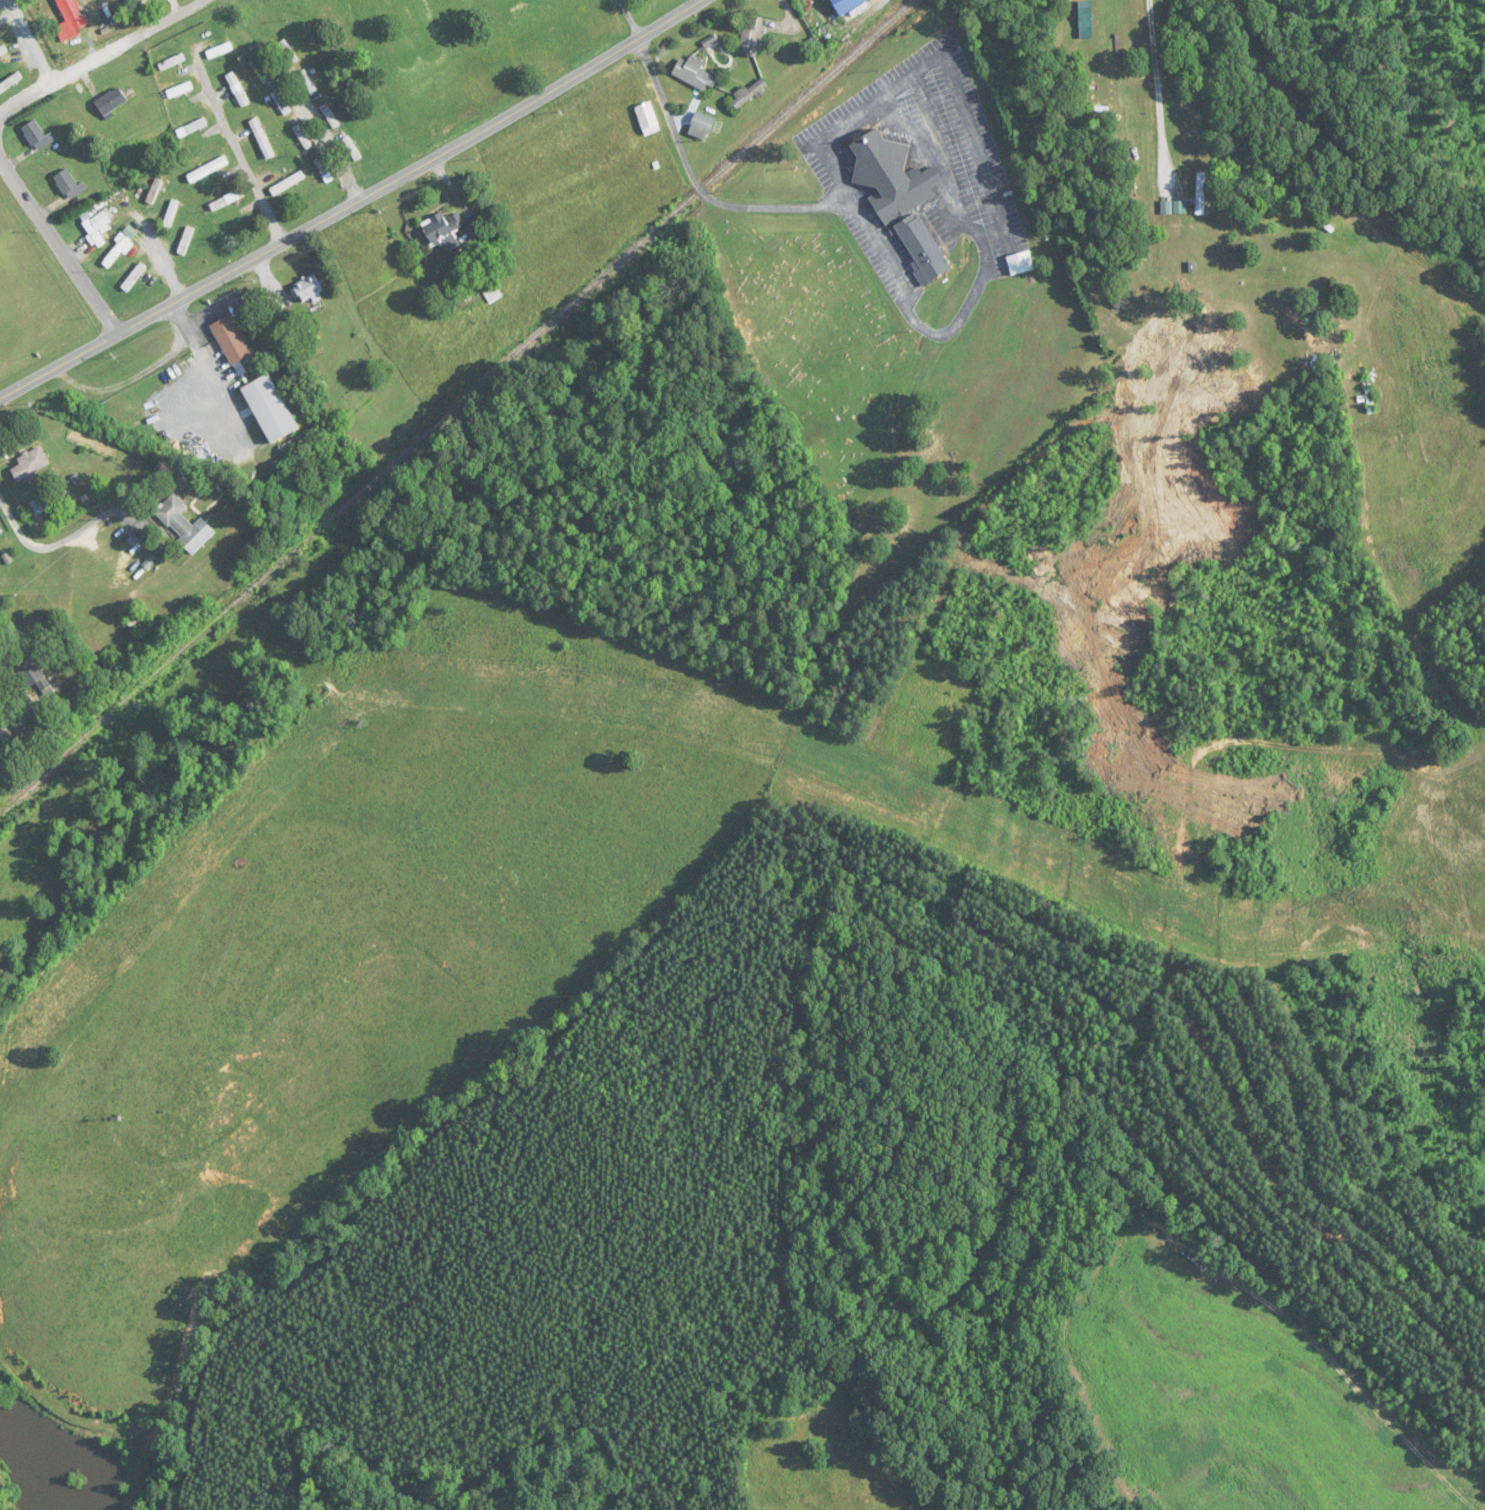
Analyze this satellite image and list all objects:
road: (200, 1)
building: (845, 4)
road: (631, 20)
road: (76, 31)
building: (753, 37)
building: (1092, 41)
road: (29, 42)
building: (220, 50)
building: (3, 51)
building: (288, 52)
road: (102, 57)
building: (172, 62)
road: (713, 63)
building: (261, 71)
building: (694, 73)
road: (687, 80)
building: (10, 83)
building: (308, 83)
building: (238, 89)
building: (180, 90)
building: (1101, 91)
building: (749, 93)
road: (1156, 93)
building: (111, 102)
building: (281, 102)
building: (331, 116)
building: (648, 119)
building: (702, 126)
building: (192, 127)
building: (38, 136)
building: (303, 137)
building: (261, 138)
building: (352, 149)
road: (240, 152)
building: (208, 170)
building: (324, 170)
building: (891, 175)
building: (288, 183)
road: (708, 183)
building: (69, 184)
building: (155, 191)
building: (1201, 193)
road: (966, 199)
building: (227, 200)
road: (356, 202)
building: (171, 215)
building: (97, 227)
building: (441, 227)
building: (186, 241)
road: (58, 243)
building: (922, 249)
building: (117, 252)
road: (161, 260)
building: (1021, 263)
building: (134, 277)
building: (308, 289)
building: (231, 340)
park: (819, 340)
building: (270, 408)
building: (30, 464)
building: (185, 525)
road: (63, 540)
building: (35, 675)

